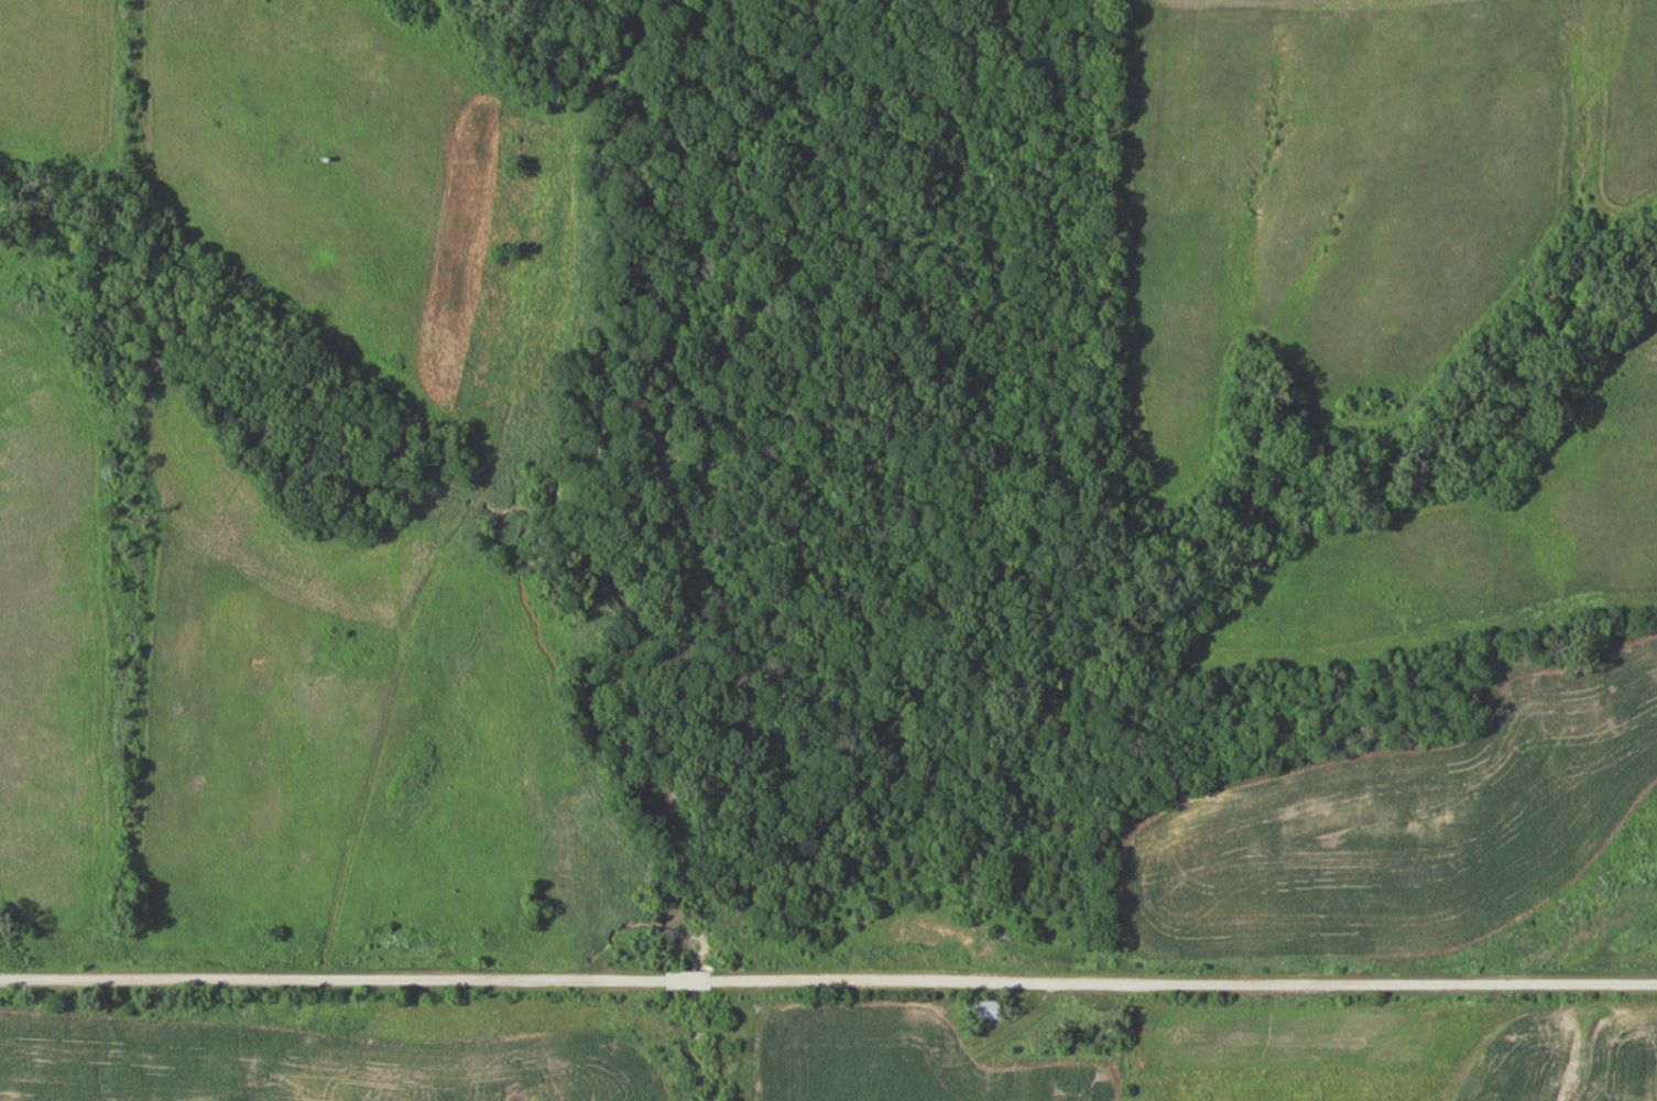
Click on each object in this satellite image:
road: (828, 979)
building: (984, 1010)

